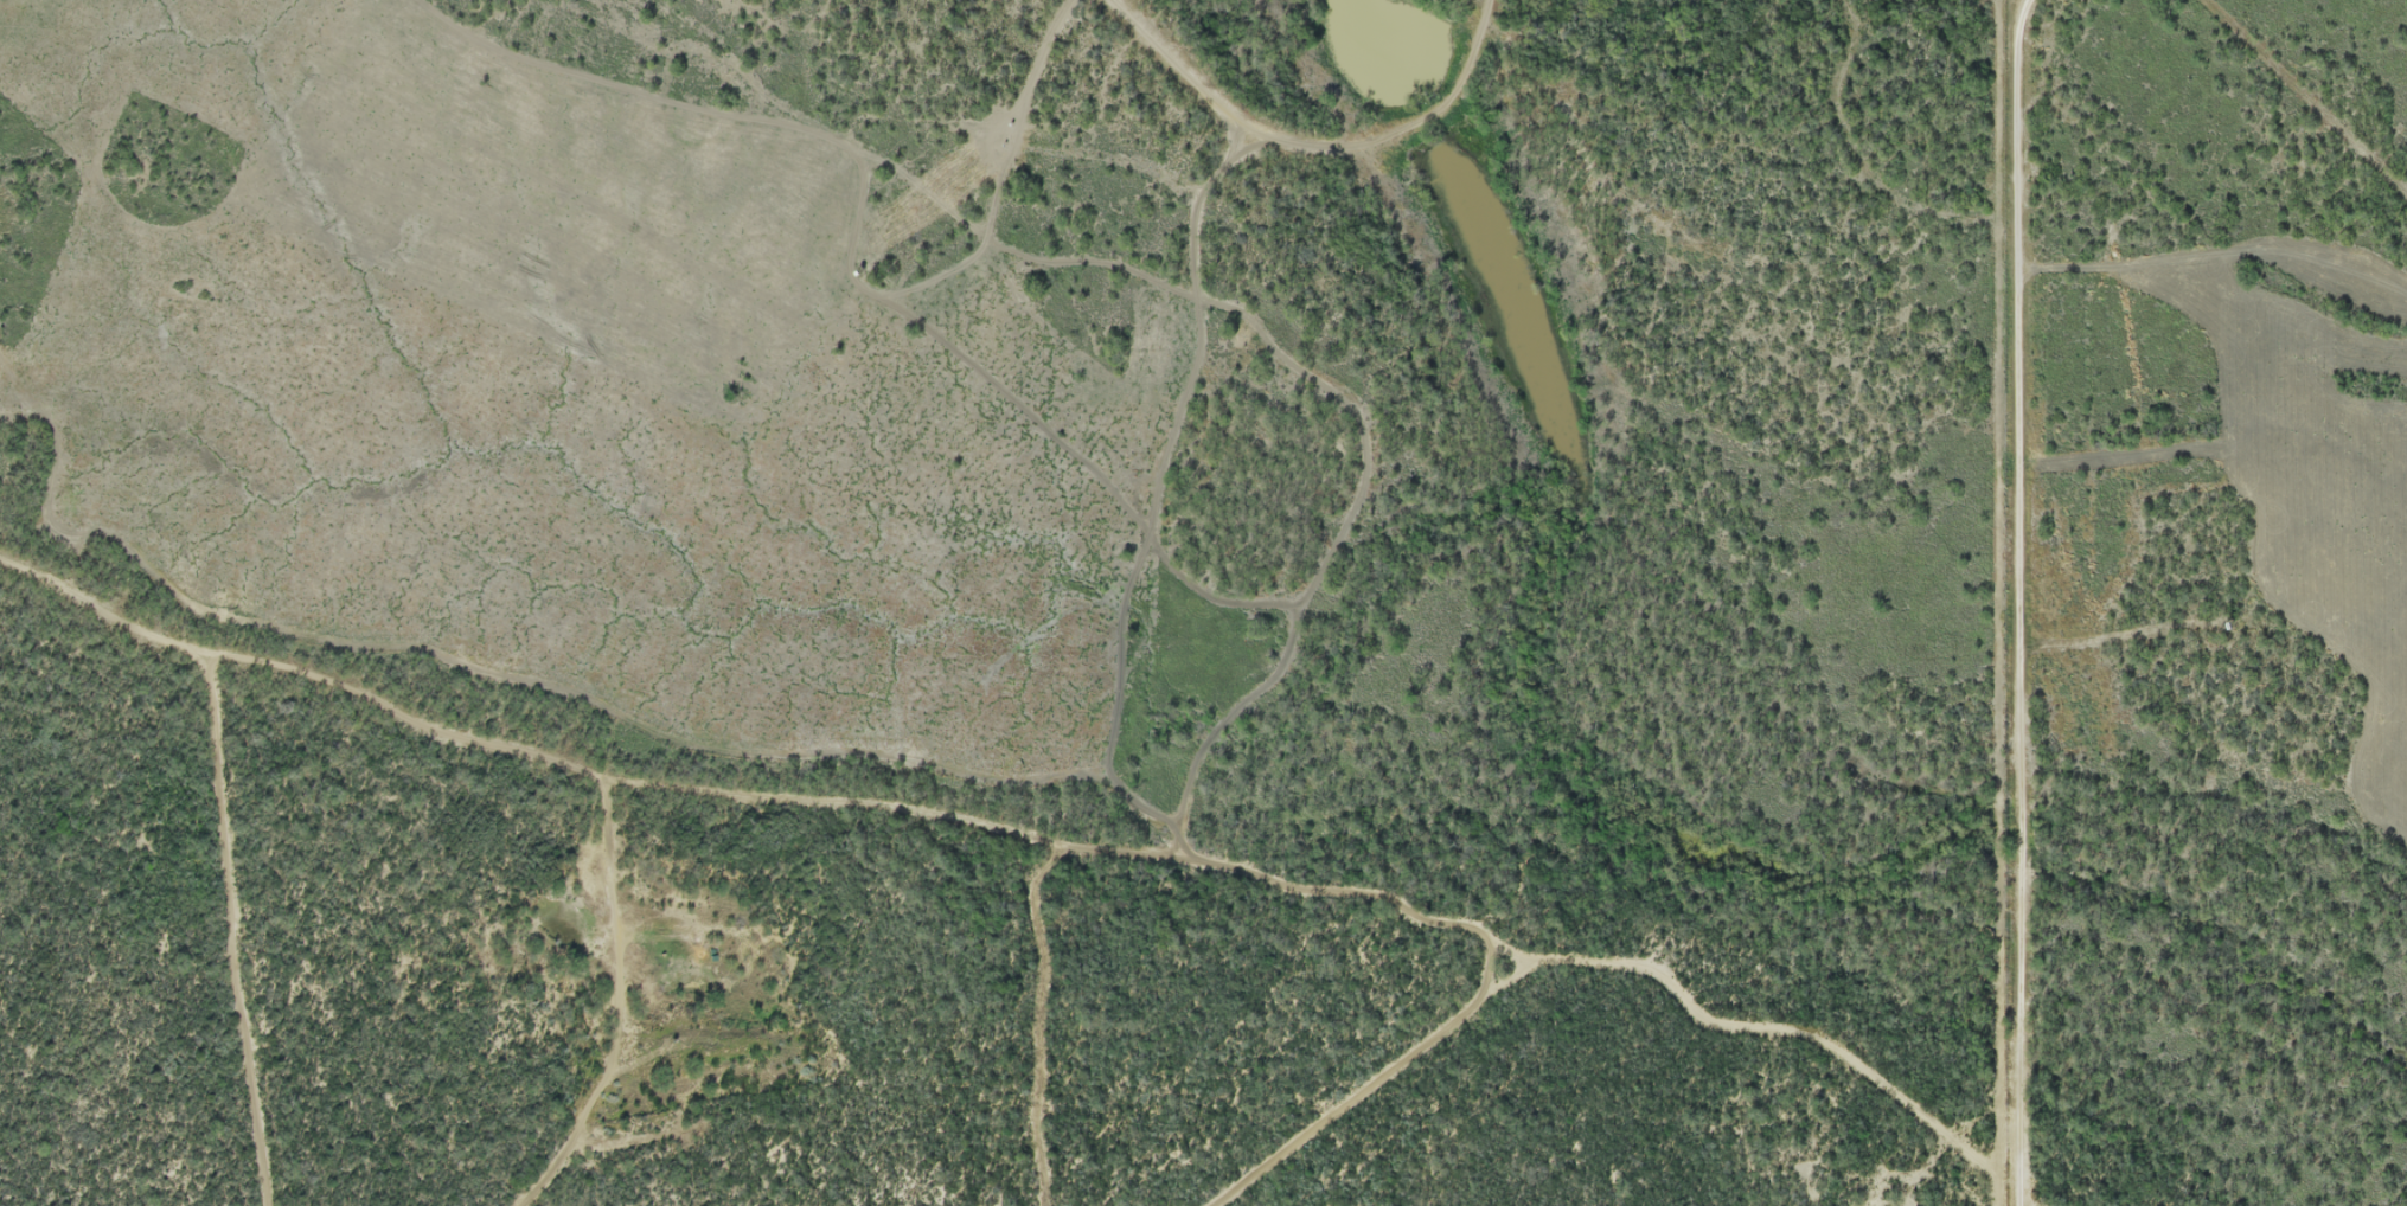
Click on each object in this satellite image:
road: (2019, 602)

